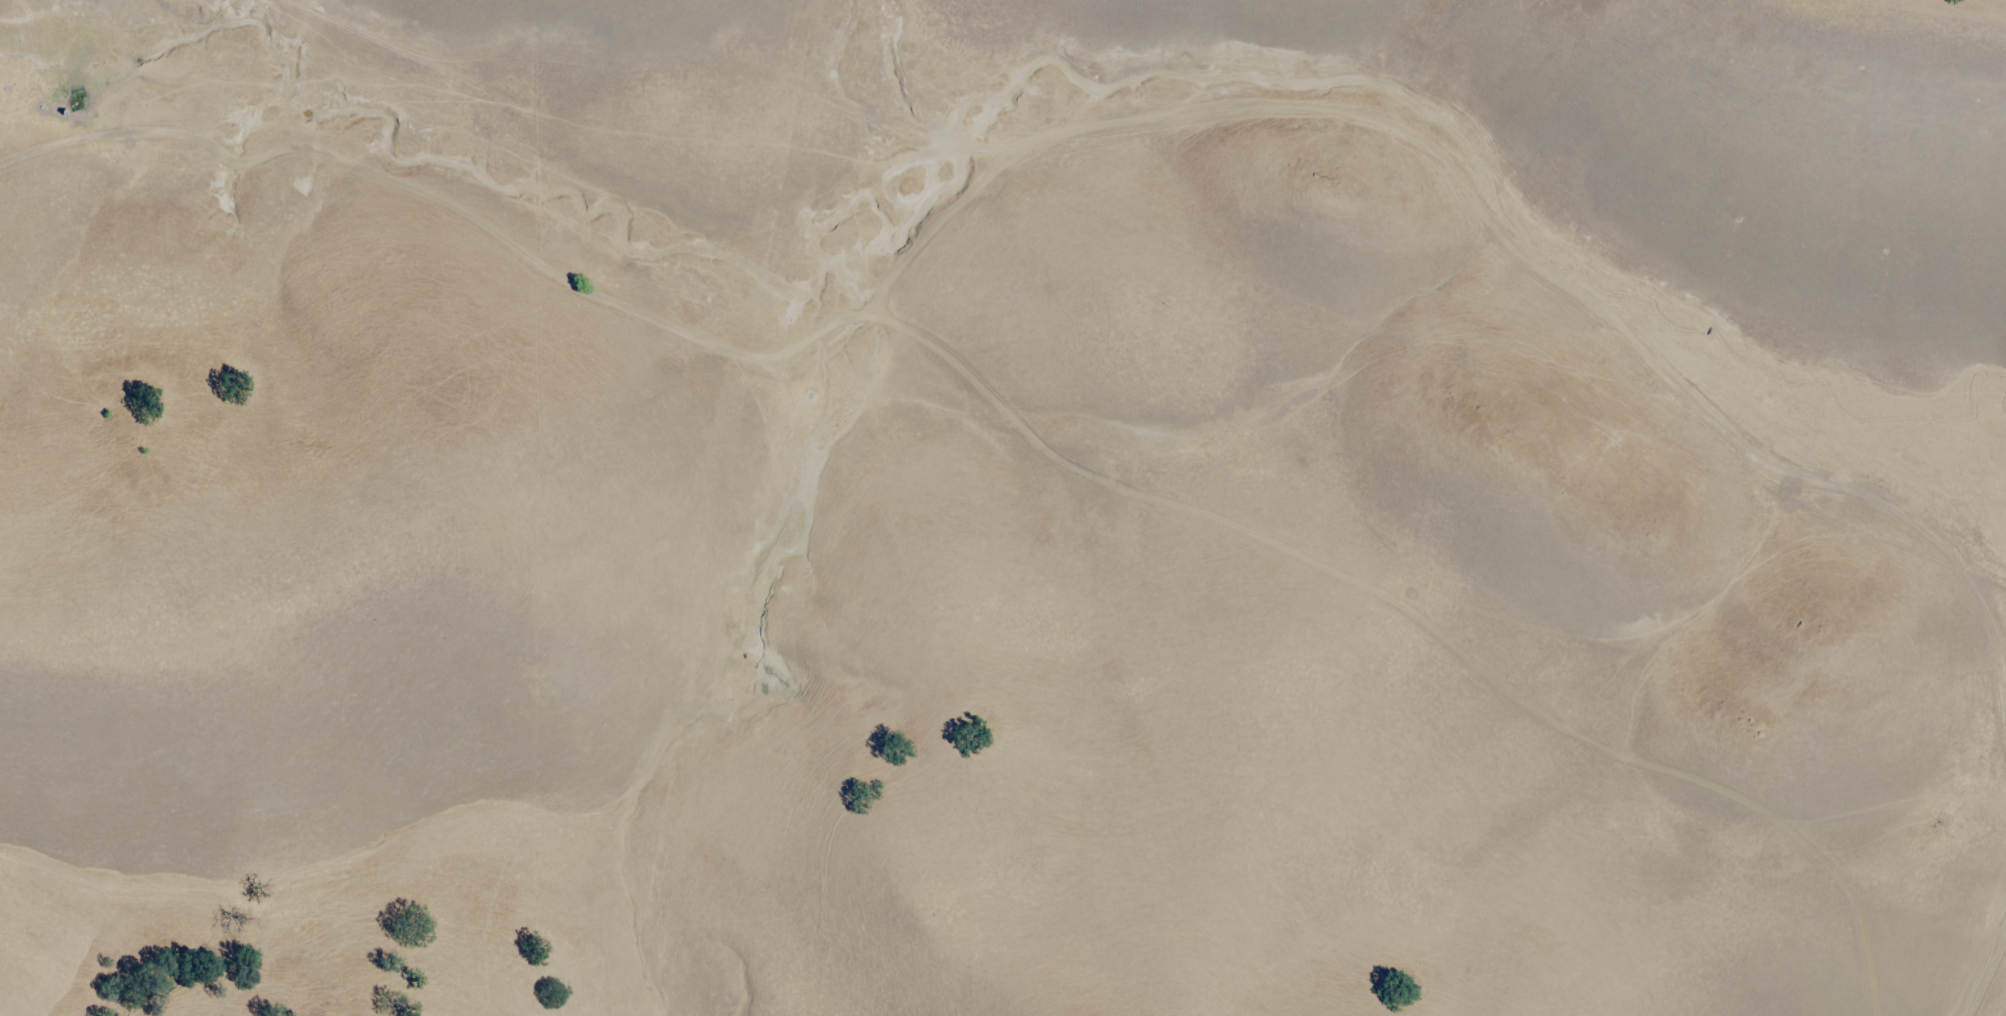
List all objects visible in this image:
road: (1104, 492)

